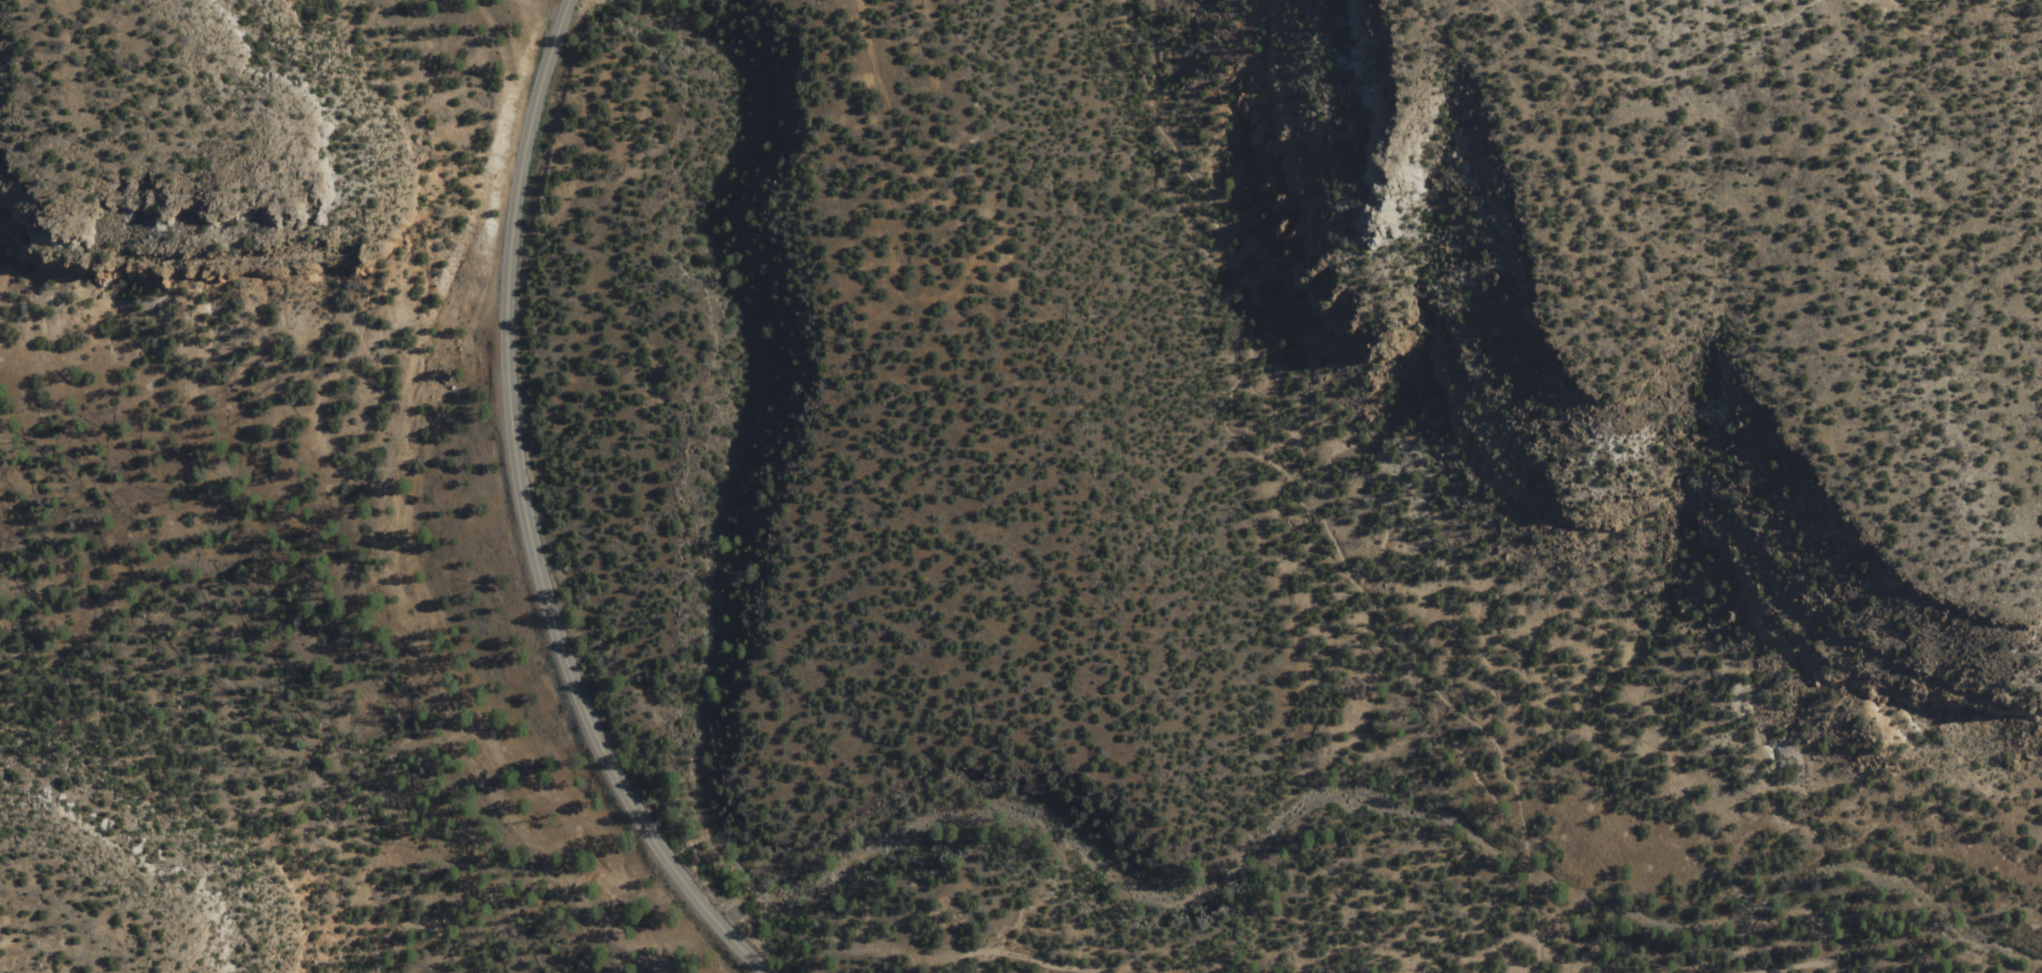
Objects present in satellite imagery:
road: (1656, 67)
road: (1295, 489)
road: (526, 515)
road: (1091, 961)

